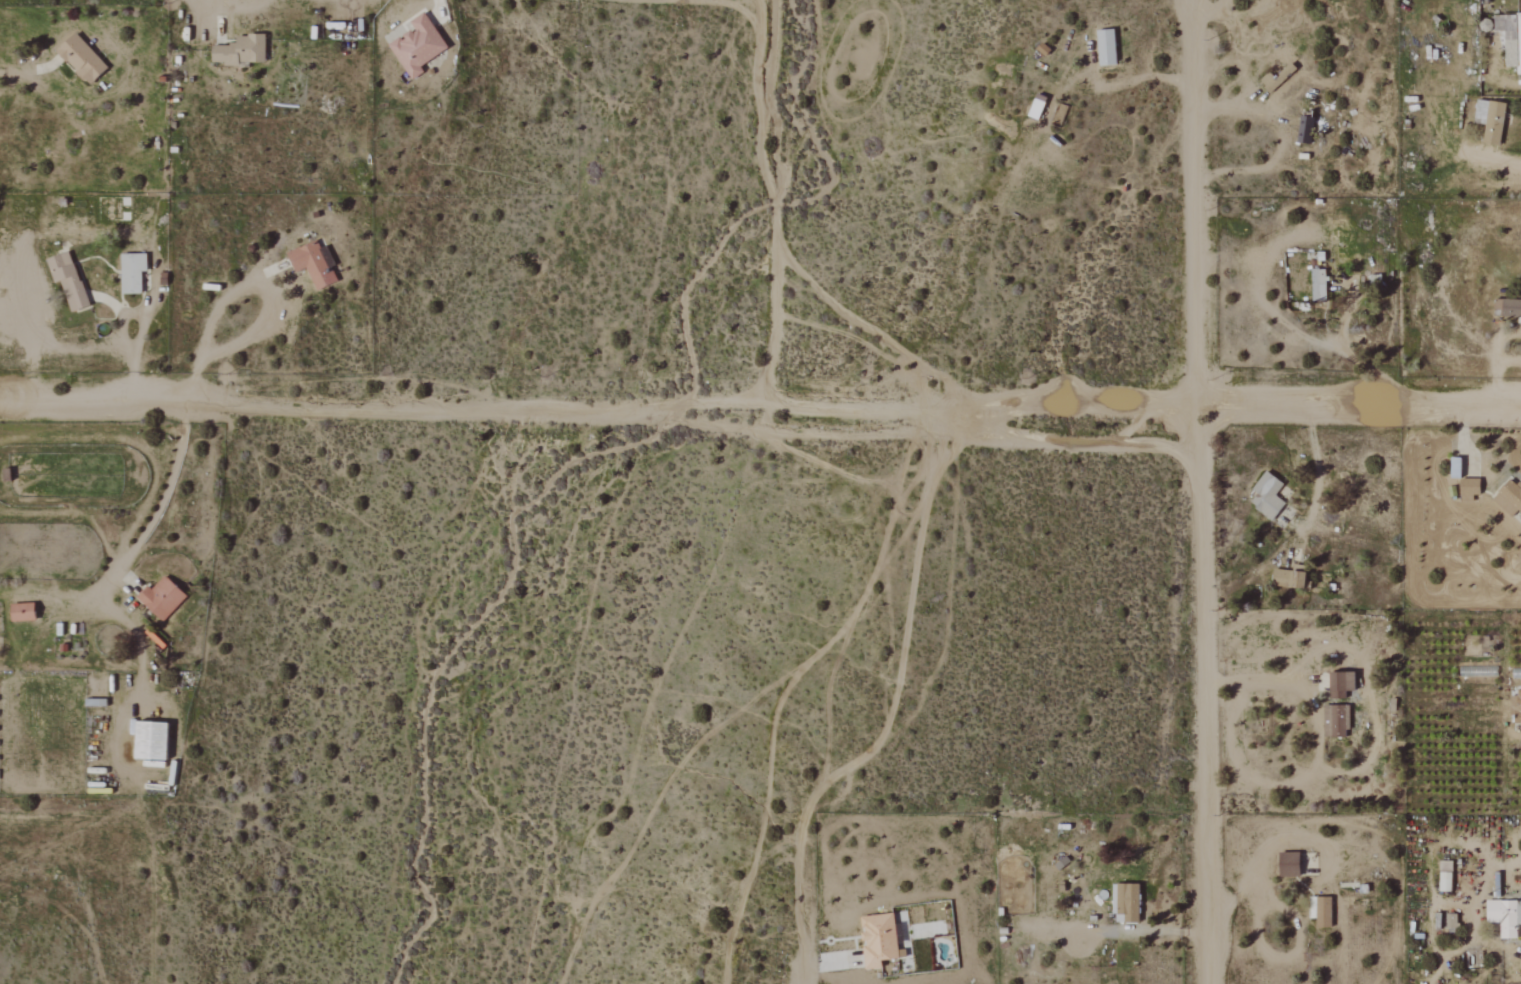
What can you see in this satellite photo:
building: (1511, 37)
building: (420, 46)
building: (1108, 47)
building: (243, 51)
building: (83, 59)
road: (1161, 78)
building: (1275, 80)
building: (1493, 120)
building: (1308, 127)
road: (1287, 145)
road: (1504, 163)
road: (775, 202)
building: (313, 264)
building: (134, 272)
building: (69, 280)
building: (1321, 285)
road: (265, 305)
building: (1508, 308)
road: (123, 326)
road: (1354, 358)
road: (760, 405)
road: (1316, 461)
building: (1459, 468)
road: (168, 487)
building: (1472, 489)
road: (1200, 491)
building: (1269, 496)
building: (1510, 498)
building: (1293, 577)
building: (163, 598)
building: (25, 612)
road: (1257, 681)
building: (1344, 685)
building: (1517, 709)
road: (890, 715)
building: (1337, 721)
building: (153, 741)
building: (1292, 864)
building: (1447, 882)
building: (1128, 903)
building: (1322, 911)
building: (1506, 917)
building: (1453, 921)

